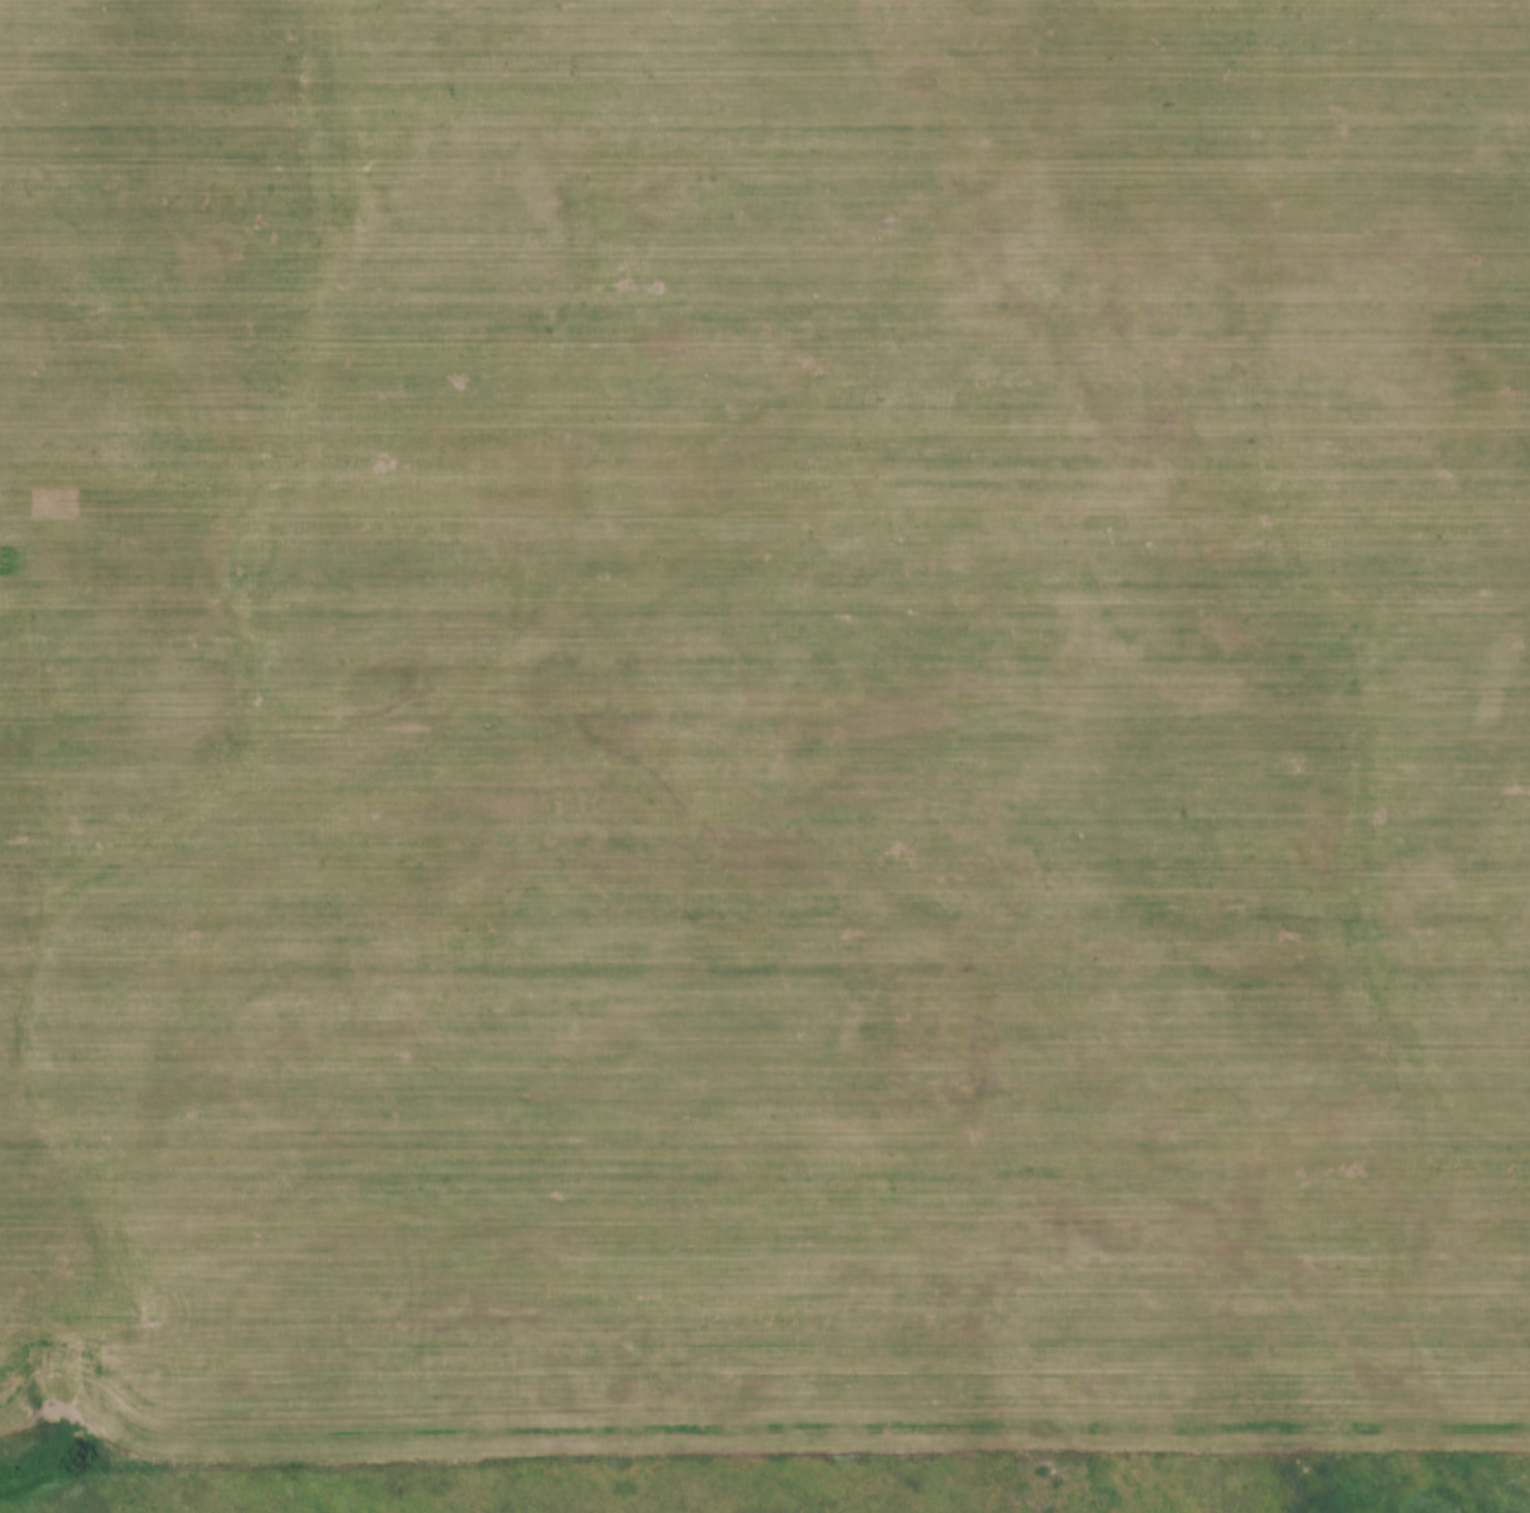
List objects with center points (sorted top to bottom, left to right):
road: (764, 1457)

